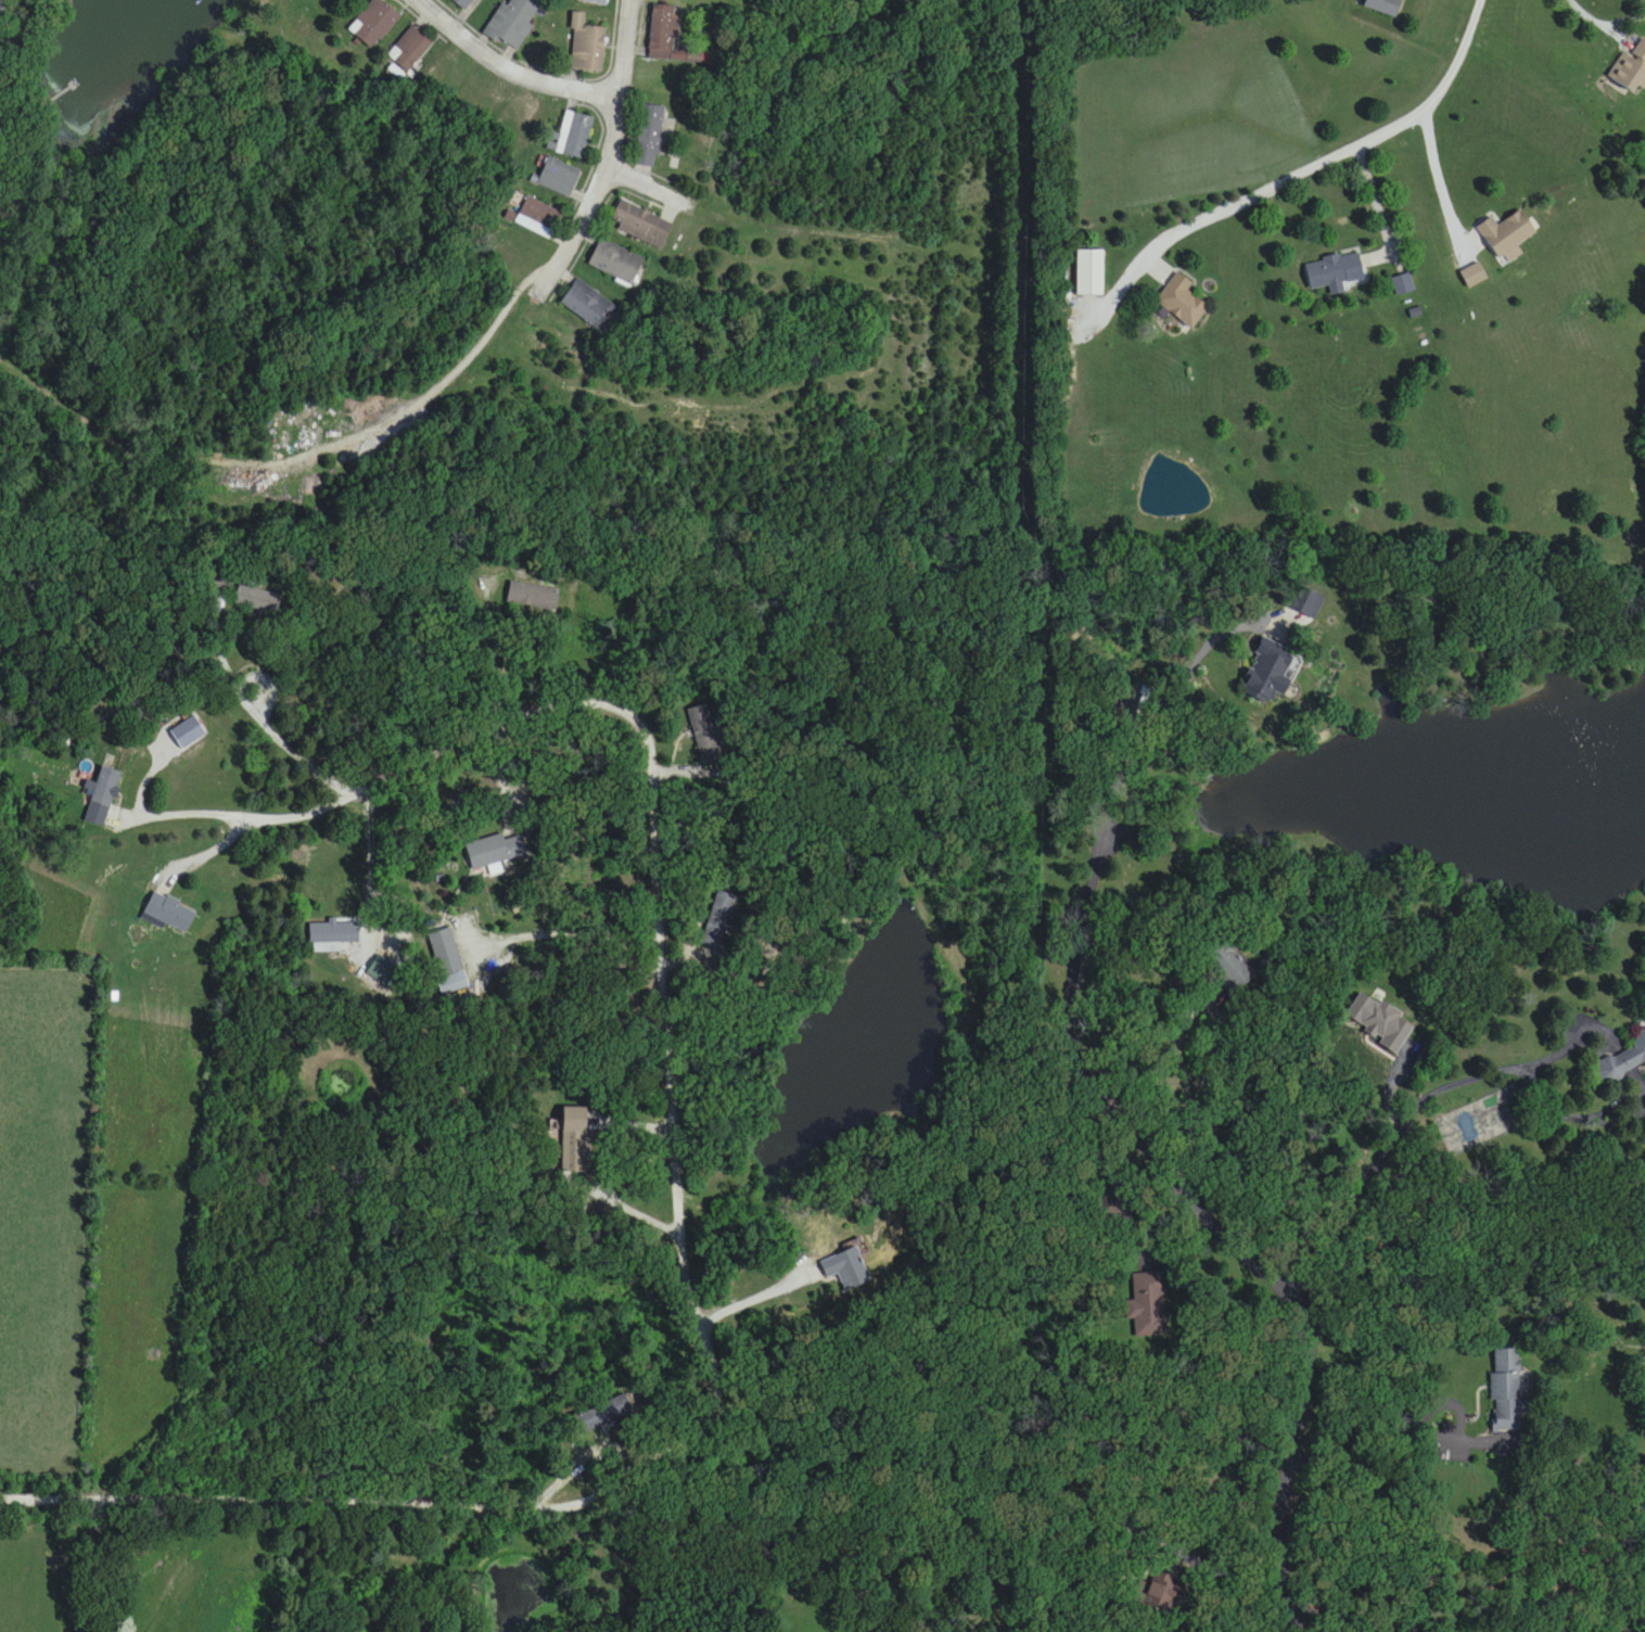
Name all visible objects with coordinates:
building: (488, 0)
building: (461, 2)
building: (596, 2)
building: (1382, 7)
road: (1608, 14)
building: (373, 22)
building: (514, 23)
building: (662, 29)
road: (625, 44)
building: (586, 46)
building: (409, 49)
road: (508, 64)
building: (1631, 68)
building: (574, 133)
building: (649, 136)
road: (1297, 170)
building: (558, 176)
road: (1438, 182)
road: (598, 192)
road: (668, 194)
road: (1377, 202)
building: (537, 217)
building: (641, 224)
building: (1505, 232)
building: (616, 262)
building: (1089, 272)
building: (1334, 272)
building: (1402, 283)
building: (1181, 301)
building: (590, 306)
road: (446, 370)
road: (156, 448)
building: (220, 579)
building: (532, 596)
building: (258, 599)
road: (500, 642)
building: (1267, 671)
road: (632, 706)
road: (253, 707)
building: (705, 734)
road: (306, 761)
building: (103, 787)
building: (493, 850)
building: (168, 911)
road: (585, 919)
building: (718, 920)
building: (333, 932)
building: (446, 952)
building: (1227, 967)
road: (1214, 1018)
building: (1381, 1024)
building: (1623, 1059)
road: (525, 1074)
road: (321, 1089)
road: (1388, 1126)
road: (1132, 1130)
building: (572, 1138)
road: (624, 1199)
building: (841, 1268)
road: (757, 1297)
building: (1506, 1390)
road: (1406, 1406)
building: (603, 1414)
road: (697, 1425)
road: (1204, 1547)

